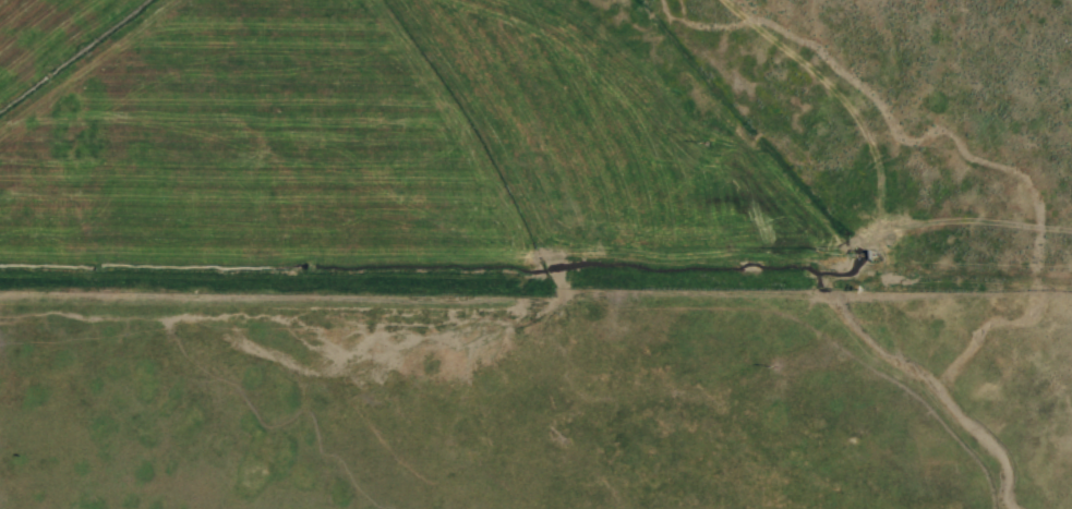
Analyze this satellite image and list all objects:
crop: (535, 254)

